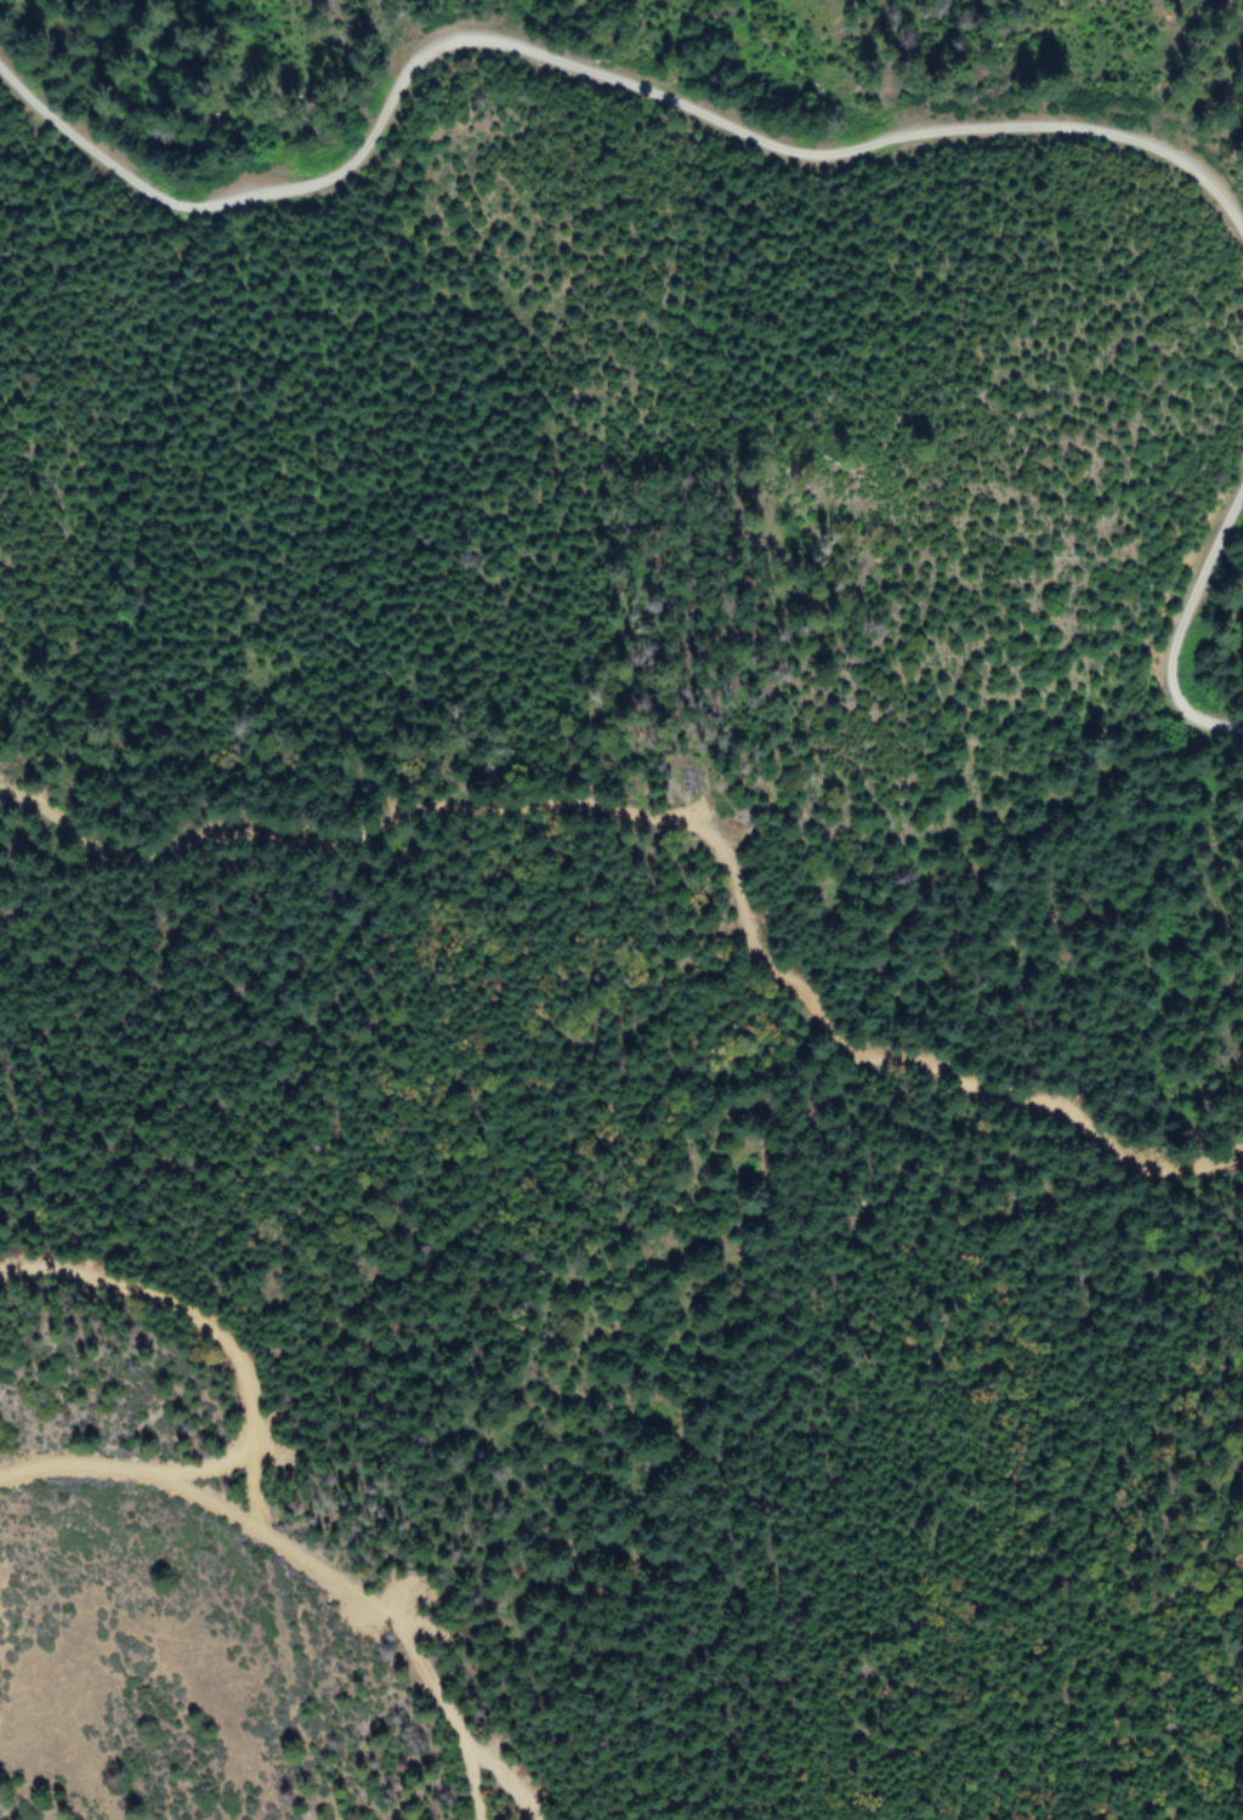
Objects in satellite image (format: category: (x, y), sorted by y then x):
road: (598, 63)
road: (1184, 620)

